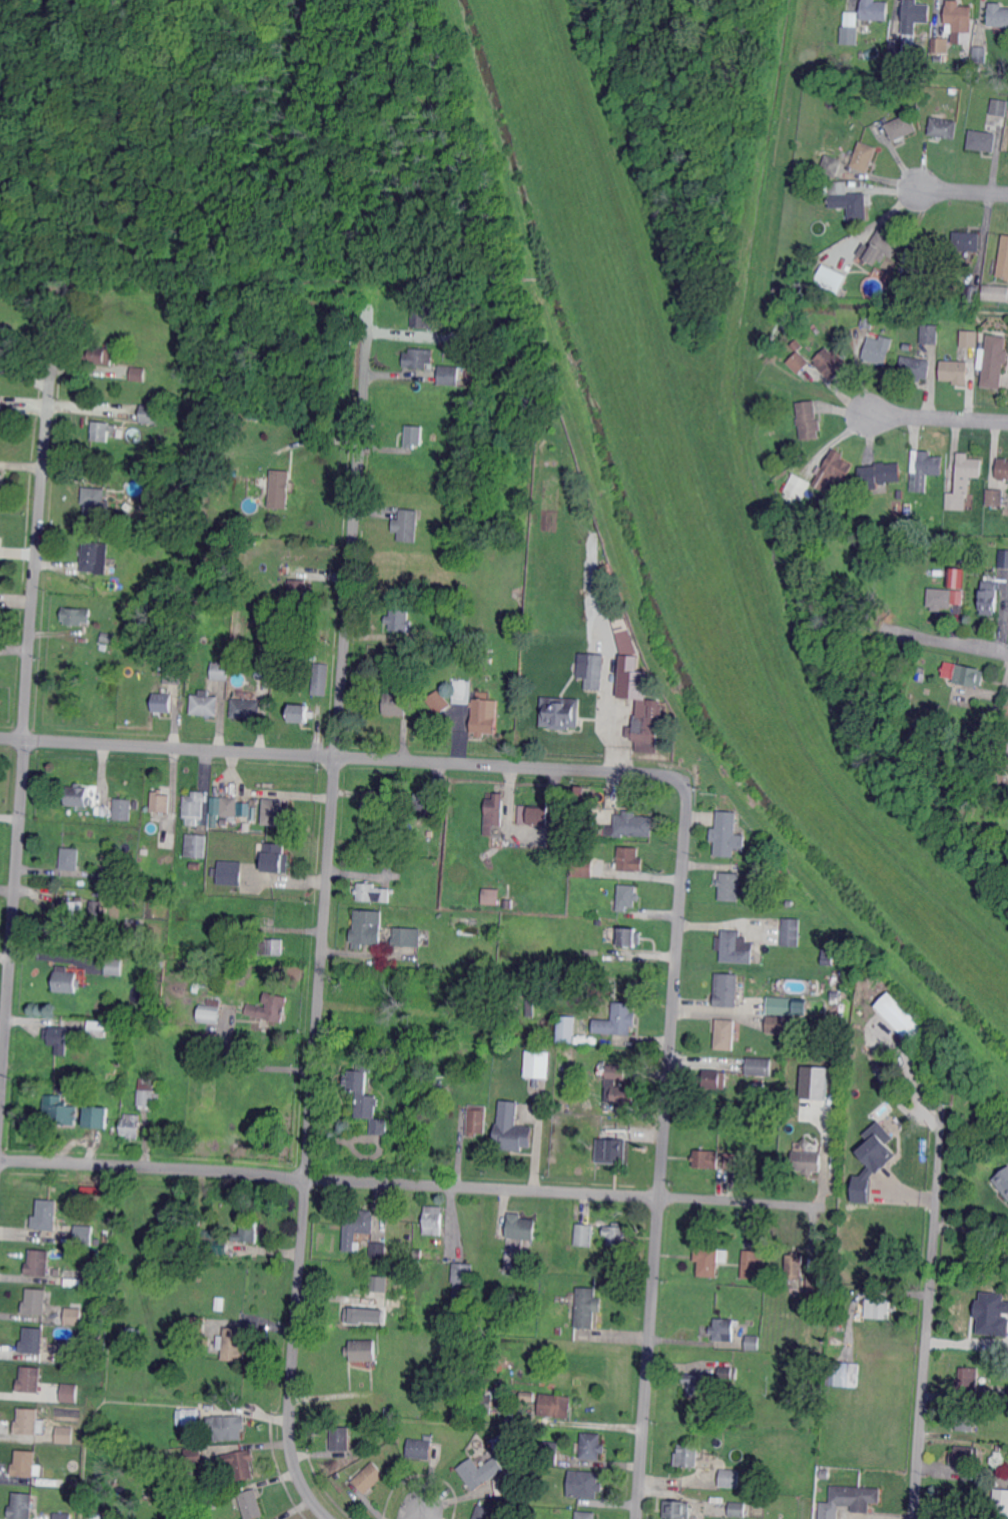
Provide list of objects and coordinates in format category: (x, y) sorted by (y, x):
building: (874, 10)
building: (916, 15)
building: (998, 16)
building: (960, 17)
building: (851, 29)
building: (942, 45)
building: (897, 46)
building: (938, 58)
building: (979, 60)
building: (1000, 107)
building: (902, 127)
building: (944, 127)
building: (983, 140)
building: (865, 156)
building: (832, 165)
road: (964, 191)
building: (848, 200)
building: (966, 242)
building: (882, 246)
building: (921, 258)
building: (1003, 258)
building: (904, 269)
building: (831, 279)
building: (777, 289)
building: (970, 292)
building: (999, 292)
building: (420, 316)
building: (868, 320)
building: (931, 335)
building: (2, 336)
building: (970, 338)
building: (798, 345)
building: (907, 347)
building: (877, 353)
building: (100, 357)
building: (419, 357)
building: (994, 360)
building: (799, 362)
building: (833, 364)
building: (916, 368)
building: (955, 371)
building: (138, 374)
building: (449, 374)
building: (3, 413)
building: (148, 414)
building: (204, 417)
road: (938, 417)
building: (808, 419)
building: (102, 430)
building: (767, 434)
building: (412, 437)
building: (769, 450)
building: (1003, 468)
building: (833, 469)
building: (926, 469)
building: (878, 475)
building: (964, 480)
building: (1, 481)
building: (278, 490)
building: (795, 491)
building: (900, 494)
building: (996, 497)
building: (94, 503)
building: (818, 511)
building: (909, 518)
building: (909, 524)
building: (408, 525)
road: (19, 552)
building: (938, 553)
building: (94, 557)
building: (1003, 558)
building: (940, 574)
building: (159, 578)
building: (956, 578)
building: (298, 589)
building: (990, 597)
building: (940, 598)
building: (76, 616)
building: (399, 619)
building: (107, 638)
road: (945, 642)
building: (489, 659)
building: (263, 667)
building: (221, 670)
building: (596, 671)
building: (631, 674)
building: (173, 675)
building: (970, 675)
building: (921, 677)
building: (321, 679)
building: (463, 691)
building: (439, 702)
building: (162, 703)
building: (205, 704)
building: (396, 704)
building: (246, 709)
building: (300, 712)
building: (561, 713)
road: (24, 715)
building: (485, 716)
building: (647, 727)
road: (343, 756)
building: (1007, 765)
building: (78, 795)
building: (426, 800)
building: (161, 801)
building: (374, 803)
building: (135, 805)
building: (230, 806)
building: (194, 807)
building: (242, 808)
building: (123, 809)
building: (275, 812)
building: (494, 813)
building: (533, 815)
building: (584, 819)
building: (224, 822)
building: (153, 825)
building: (630, 825)
building: (426, 829)
building: (729, 834)
building: (196, 845)
building: (591, 852)
building: (276, 857)
building: (70, 858)
building: (629, 858)
building: (195, 865)
building: (584, 867)
building: (97, 870)
building: (230, 871)
building: (730, 886)
building: (491, 888)
building: (372, 892)
building: (628, 896)
building: (791, 902)
building: (509, 903)
building: (97, 905)
building: (68, 909)
building: (596, 913)
building: (441, 914)
road: (325, 927)
building: (366, 927)
building: (792, 933)
building: (629, 936)
building: (405, 937)
building: (240, 938)
building: (271, 946)
building: (736, 947)
building: (828, 956)
building: (160, 962)
building: (436, 966)
building: (113, 967)
building: (66, 980)
building: (197, 987)
building: (726, 989)
building: (383, 994)
building: (836, 994)
building: (783, 1005)
building: (269, 1006)
building: (530, 1008)
building: (210, 1010)
building: (899, 1016)
building: (438, 1019)
building: (617, 1021)
building: (361, 1024)
building: (785, 1025)
building: (101, 1029)
building: (566, 1030)
building: (726, 1034)
building: (206, 1038)
building: (58, 1039)
building: (751, 1048)
building: (538, 1064)
road: (246, 1066)
building: (758, 1067)
building: (714, 1080)
building: (144, 1081)
building: (814, 1081)
building: (145, 1086)
building: (617, 1086)
building: (365, 1098)
building: (148, 1099)
building: (463, 1101)
building: (561, 1103)
building: (787, 1105)
building: (577, 1106)
building: (58, 1110)
building: (96, 1118)
building: (477, 1118)
building: (418, 1120)
building: (597, 1121)
building: (837, 1123)
building: (131, 1125)
building: (512, 1129)
building: (610, 1150)
road: (664, 1150)
building: (705, 1159)
building: (872, 1160)
building: (731, 1161)
building: (806, 1161)
building: (1003, 1182)
road: (416, 1184)
building: (46, 1215)
building: (434, 1219)
building: (360, 1222)
building: (521, 1228)
road: (971, 1228)
building: (248, 1231)
building: (586, 1232)
building: (616, 1233)
building: (84, 1235)
building: (97, 1240)
building: (221, 1245)
building: (379, 1249)
building: (711, 1260)
building: (39, 1262)
building: (90, 1262)
building: (755, 1264)
building: (794, 1266)
building: (57, 1272)
building: (90, 1277)
building: (462, 1278)
building: (378, 1283)
building: (819, 1287)
building: (396, 1288)
building: (38, 1302)
building: (587, 1308)
building: (879, 1309)
building: (991, 1313)
building: (73, 1315)
building: (362, 1316)
road: (929, 1316)
building: (197, 1324)
building: (724, 1329)
building: (134, 1334)
building: (33, 1340)
building: (207, 1340)
building: (836, 1340)
building: (755, 1342)
building: (233, 1345)
building: (362, 1350)
building: (68, 1351)
building: (729, 1372)
building: (843, 1374)
building: (30, 1379)
building: (968, 1381)
building: (695, 1385)
building: (1007, 1391)
building: (70, 1393)
building: (375, 1396)
building: (528, 1396)
building: (484, 1400)
building: (555, 1405)
building: (191, 1417)
building: (967, 1420)
building: (29, 1422)
building: (228, 1428)
building: (707, 1429)
building: (65, 1434)
building: (429, 1436)
building: (340, 1438)
building: (592, 1446)
building: (998, 1446)
building: (420, 1448)
building: (549, 1453)
building: (688, 1455)
building: (965, 1455)
building: (194, 1456)
building: (24, 1463)
building: (239, 1464)
building: (479, 1472)
building: (369, 1477)
building: (729, 1479)
building: (584, 1484)
building: (505, 1485)
building: (225, 1493)
building: (358, 1493)
building: (856, 1497)
building: (1000, 1501)
building: (251, 1504)
building: (23, 1505)
building: (677, 1509)
building: (738, 1509)
building: (484, 1513)
building: (826, 1514)
road: (419, 1515)
building: (586, 1515)
building: (63, 1516)
building: (266, 1518)

